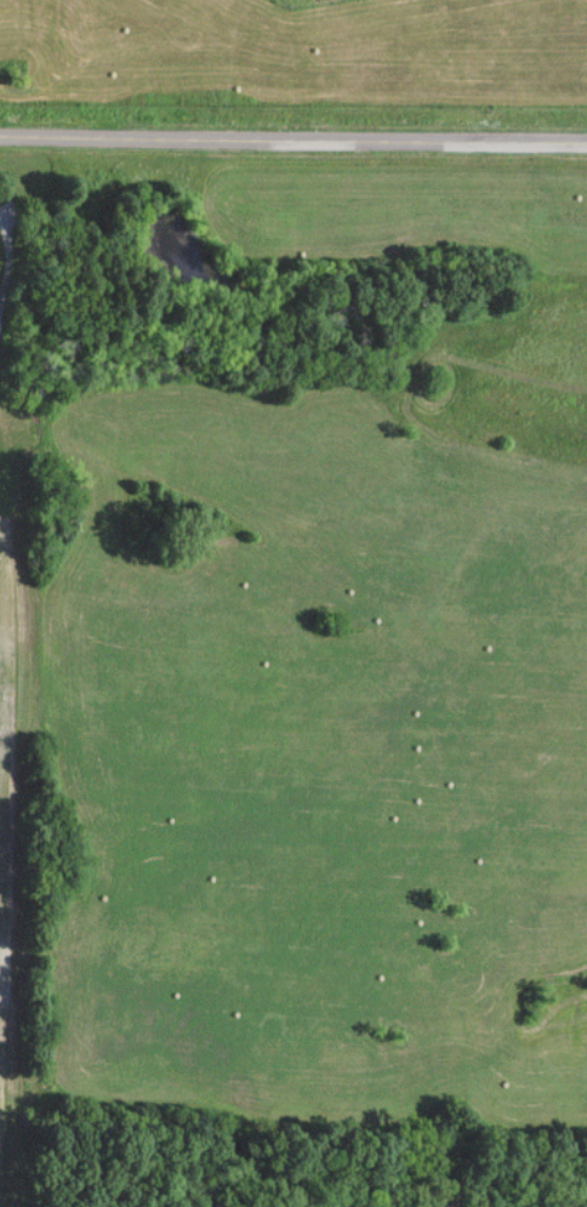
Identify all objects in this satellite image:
road: (293, 136)

